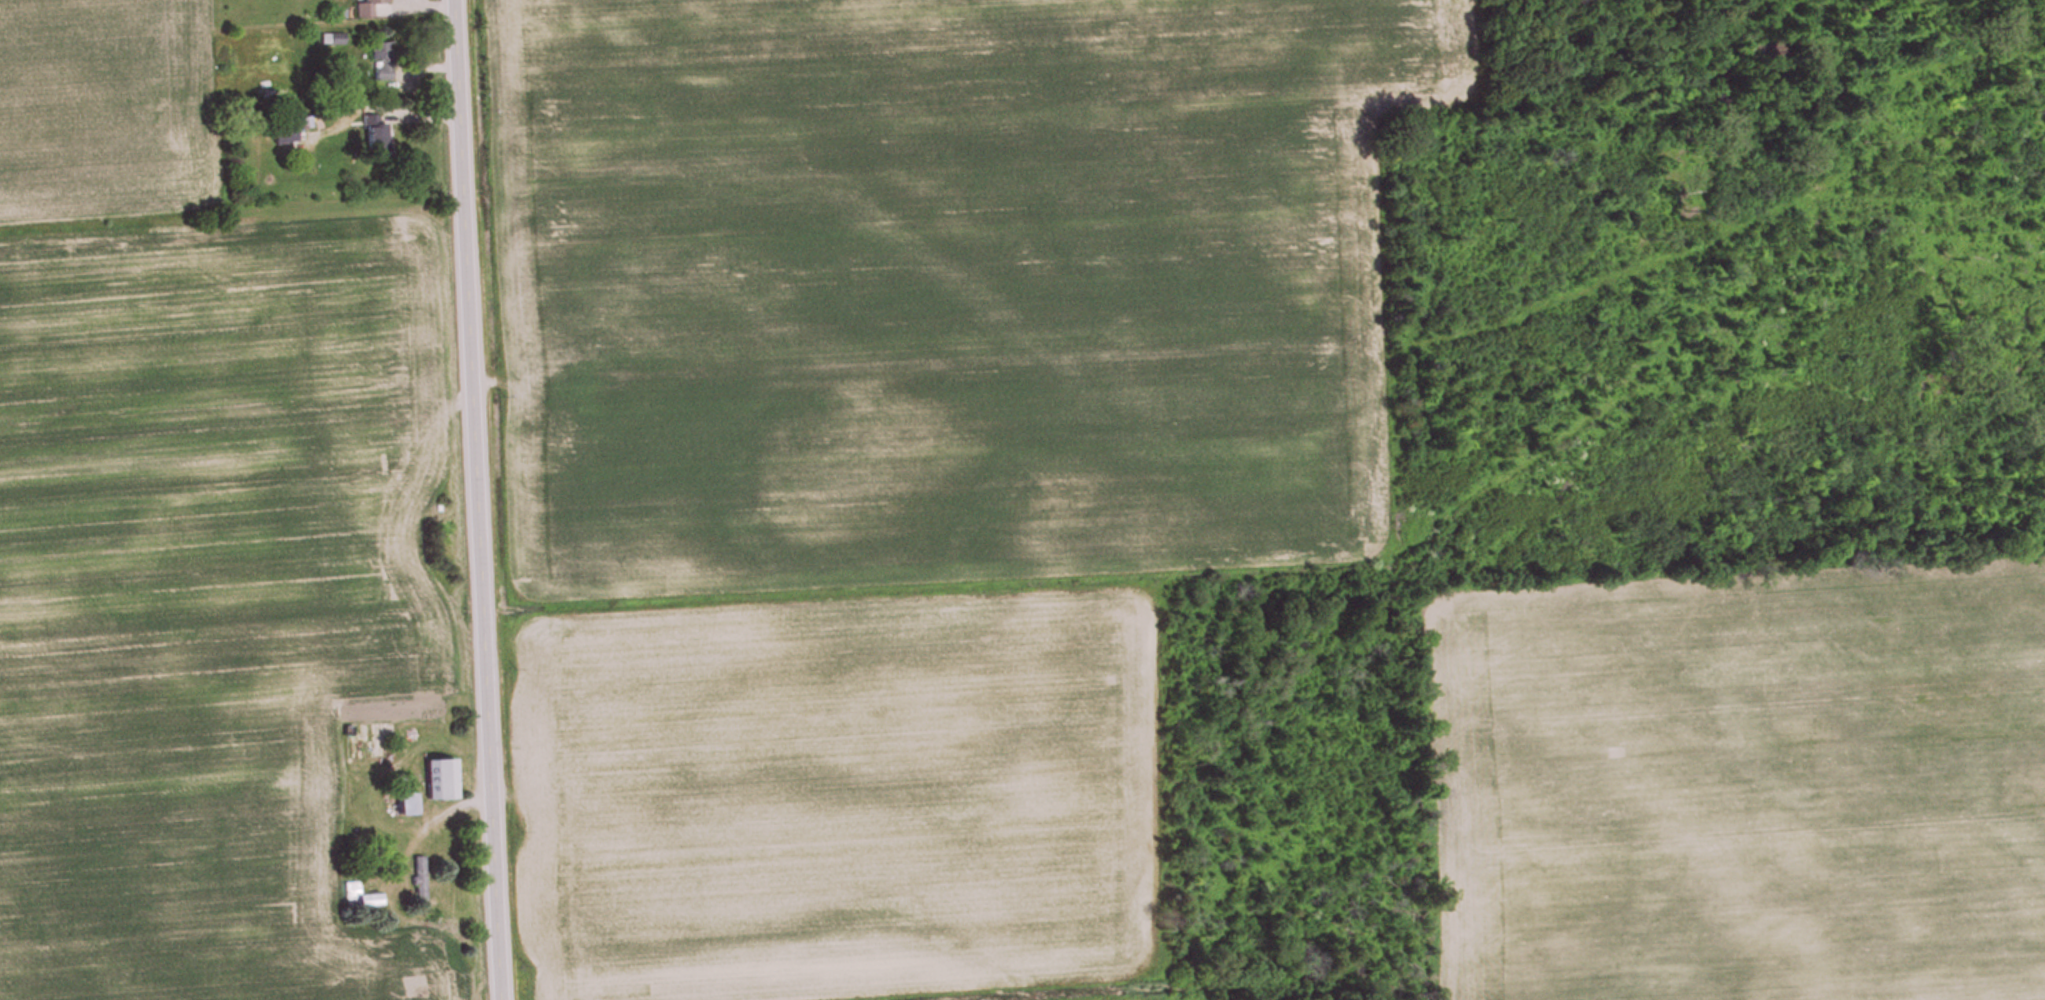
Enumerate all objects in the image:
building: (368, 8)
building: (382, 63)
building: (284, 136)
building: (377, 142)
road: (471, 500)
building: (439, 781)
building: (403, 806)
building: (418, 880)
building: (358, 897)

